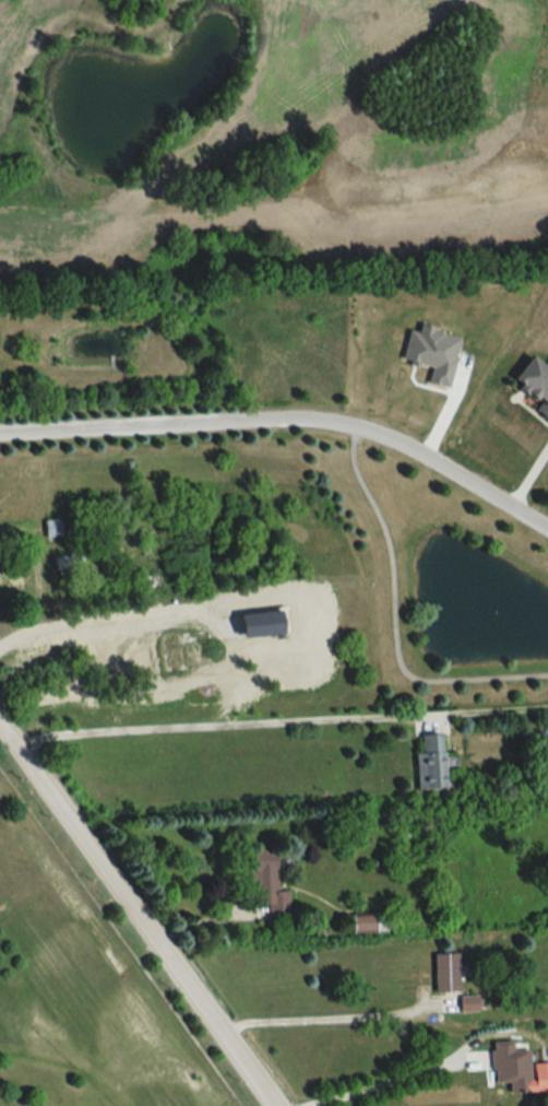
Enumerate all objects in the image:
building: (532, 385)
road: (287, 420)
road: (528, 480)
building: (52, 529)
building: (115, 554)
building: (61, 562)
road: (284, 722)
building: (429, 760)
building: (265, 881)
road: (138, 910)
building: (444, 972)
road: (336, 1020)
building: (510, 1066)
road: (386, 1084)

